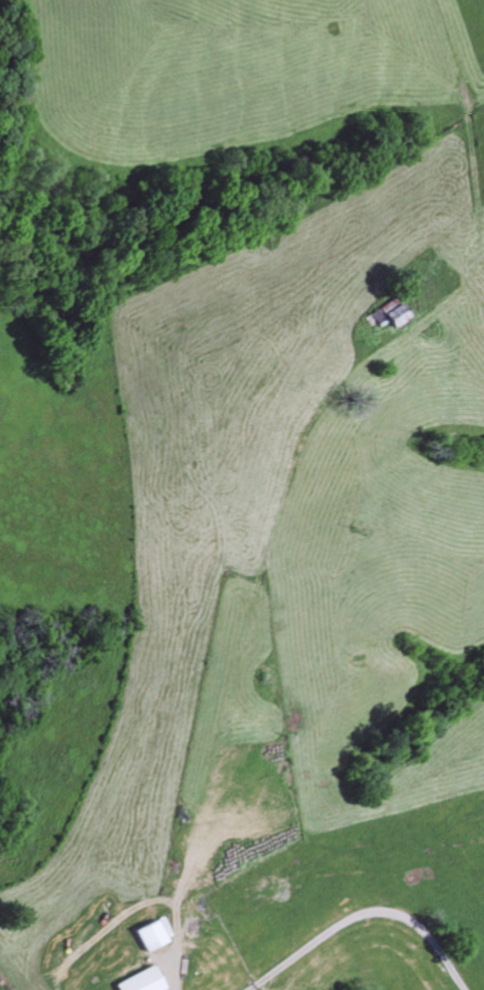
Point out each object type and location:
building: (393, 315)
road: (364, 914)
building: (157, 936)
road: (145, 967)
building: (146, 982)
road: (252, 988)

